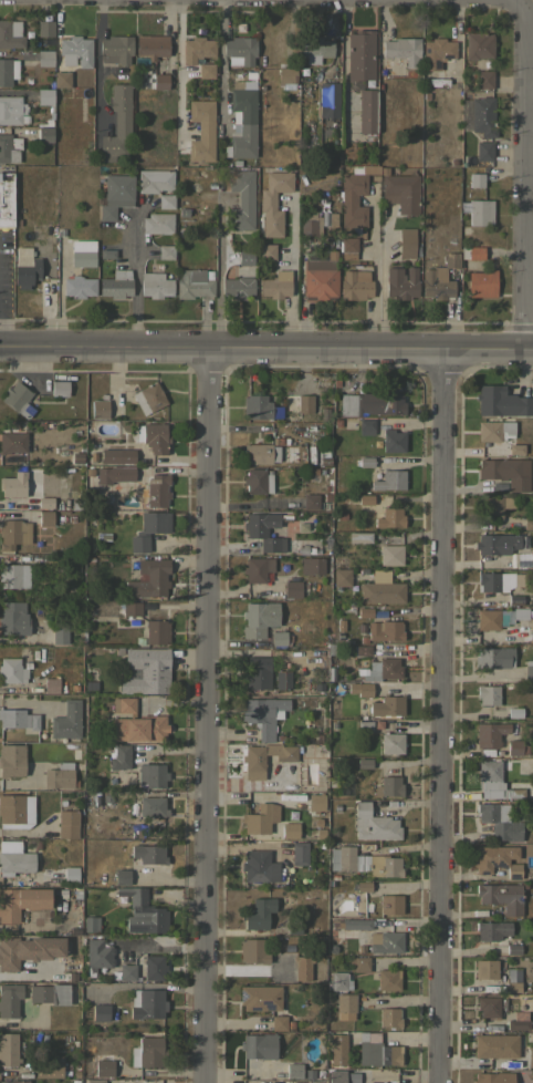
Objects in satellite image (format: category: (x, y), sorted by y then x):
building: (44, 28)
building: (10, 33)
building: (478, 44)
building: (150, 45)
building: (114, 49)
building: (196, 49)
building: (314, 49)
building: (401, 49)
building: (239, 50)
building: (74, 51)
building: (436, 52)
building: (359, 55)
building: (44, 56)
road: (94, 61)
road: (221, 65)
building: (7, 70)
building: (206, 70)
road: (178, 71)
building: (285, 75)
building: (61, 79)
building: (483, 80)
building: (159, 81)
building: (45, 97)
building: (328, 100)
building: (11, 110)
building: (366, 111)
building: (482, 116)
building: (117, 124)
building: (241, 124)
building: (201, 130)
building: (44, 134)
building: (9, 148)
building: (482, 149)
road: (521, 169)
building: (154, 179)
building: (475, 179)
building: (400, 192)
building: (115, 194)
building: (353, 197)
building: (241, 199)
building: (6, 200)
building: (165, 200)
building: (273, 202)
building: (479, 212)
building: (156, 223)
building: (310, 225)
building: (406, 243)
building: (348, 244)
road: (129, 248)
building: (165, 251)
building: (266, 251)
building: (82, 252)
building: (471, 252)
building: (244, 257)
building: (24, 267)
road: (217, 267)
road: (292, 272)
building: (320, 275)
road: (135, 278)
building: (439, 278)
road: (376, 280)
building: (194, 282)
building: (400, 282)
building: (116, 283)
building: (355, 283)
building: (481, 283)
building: (155, 285)
building: (275, 285)
building: (79, 286)
building: (237, 287)
road: (265, 349)
building: (59, 388)
building: (148, 398)
building: (17, 399)
building: (498, 400)
building: (304, 403)
building: (369, 404)
building: (255, 406)
building: (98, 409)
building: (365, 427)
building: (493, 431)
building: (150, 436)
building: (393, 441)
building: (12, 442)
building: (515, 448)
building: (260, 451)
building: (117, 455)
building: (365, 461)
building: (503, 473)
building: (114, 474)
building: (388, 479)
building: (257, 481)
building: (12, 484)
building: (157, 489)
building: (364, 498)
building: (44, 502)
building: (305, 502)
building: (494, 505)
building: (44, 518)
building: (389, 518)
building: (527, 524)
building: (148, 529)
building: (263, 530)
building: (13, 533)
building: (358, 537)
building: (494, 544)
building: (389, 555)
building: (531, 558)
building: (311, 565)
building: (255, 568)
building: (13, 576)
building: (339, 577)
building: (148, 578)
building: (494, 581)
building: (291, 588)
building: (380, 588)
building: (130, 608)
building: (519, 613)
building: (13, 618)
building: (258, 618)
building: (489, 619)
building: (384, 630)
building: (156, 631)
building: (61, 635)
building: (514, 637)
building: (279, 638)
building: (360, 650)
building: (493, 657)
building: (12, 669)
building: (379, 669)
building: (527, 669)
building: (144, 671)
building: (255, 679)
building: (281, 679)
building: (50, 685)
building: (360, 689)
building: (488, 694)
building: (123, 704)
building: (387, 705)
building: (262, 714)
road: (207, 715)
road: (438, 716)
building: (18, 718)
building: (66, 720)
building: (137, 726)
building: (490, 733)
building: (391, 742)
building: (514, 747)
building: (121, 756)
building: (11, 760)
building: (253, 761)
building: (365, 763)
building: (151, 774)
building: (61, 775)
building: (495, 782)
building: (389, 785)
building: (315, 802)
building: (153, 805)
building: (15, 809)
building: (258, 819)
building: (499, 822)
building: (67, 823)
building: (374, 823)
building: (290, 831)
building: (149, 853)
building: (299, 853)
building: (14, 857)
building: (495, 859)
building: (364, 862)
building: (259, 866)
building: (71, 874)
building: (122, 876)
building: (502, 896)
building: (22, 900)
building: (391, 904)
building: (143, 911)
building: (258, 912)
building: (91, 924)
building: (352, 924)
building: (293, 926)
building: (492, 930)
building: (386, 941)
road: (163, 946)
building: (253, 950)
building: (512, 950)
building: (98, 953)
building: (9, 957)
building: (357, 963)
building: (154, 967)
building: (303, 968)
building: (485, 968)
building: (128, 971)
building: (388, 979)
building: (338, 981)
building: (511, 987)
building: (50, 993)
building: (260, 997)
building: (9, 999)
building: (345, 1002)
building: (147, 1003)
building: (488, 1005)
building: (101, 1011)
building: (389, 1017)
building: (519, 1021)
building: (279, 1022)
building: (259, 1045)
building: (495, 1045)
building: (10, 1046)
building: (337, 1048)
building: (147, 1051)
building: (377, 1051)
building: (530, 1056)
building: (104, 1064)
building: (48, 1067)
building: (294, 1070)
building: (336, 1075)
building: (493, 1077)
building: (15, 1081)
building: (98, 1081)
building: (137, 1081)
building: (378, 1082)

